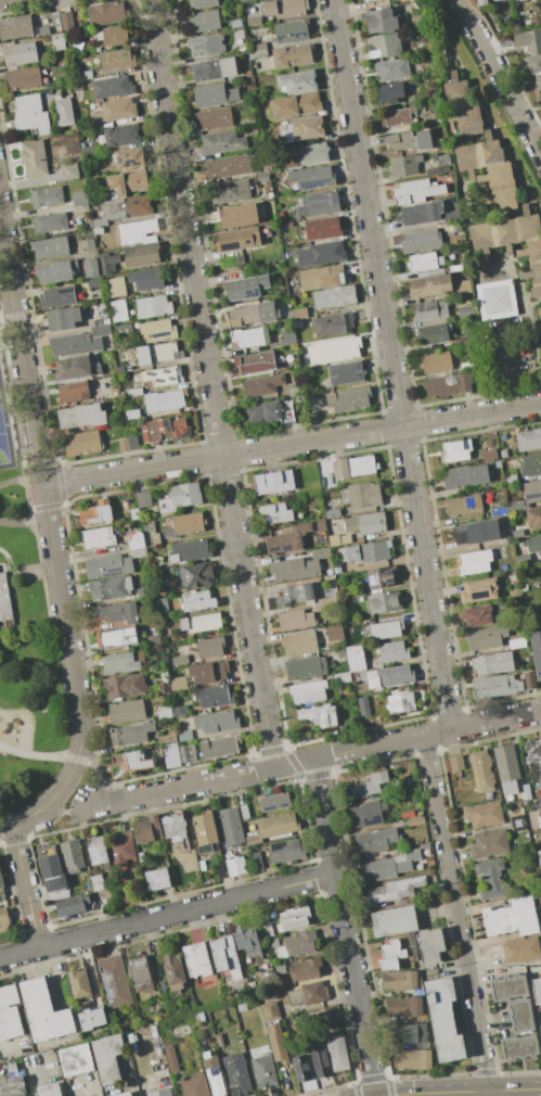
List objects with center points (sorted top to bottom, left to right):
building: (523, 0)
building: (540, 0)
building: (239, 1)
building: (371, 1)
building: (480, 2)
building: (202, 3)
building: (284, 8)
building: (107, 14)
building: (68, 17)
building: (203, 21)
building: (253, 21)
building: (381, 21)
building: (235, 23)
building: (15, 28)
building: (44, 30)
building: (291, 31)
building: (239, 34)
building: (112, 35)
building: (57, 41)
building: (529, 41)
building: (206, 46)
building: (384, 46)
building: (95, 49)
building: (258, 50)
building: (18, 53)
building: (293, 55)
building: (117, 60)
building: (61, 63)
building: (533, 65)
building: (214, 69)
building: (392, 69)
building: (257, 72)
building: (83, 75)
building: (23, 78)
road: (498, 80)
building: (538, 81)
building: (297, 82)
building: (112, 87)
building: (77, 88)
building: (391, 92)
building: (214, 95)
building: (295, 105)
building: (462, 107)
building: (115, 111)
building: (64, 112)
building: (30, 114)
building: (399, 117)
building: (215, 119)
road: (490, 124)
building: (301, 129)
building: (119, 136)
building: (410, 141)
building: (221, 142)
building: (306, 155)
building: (34, 158)
building: (128, 158)
building: (440, 158)
building: (404, 165)
building: (228, 166)
building: (437, 170)
building: (489, 170)
building: (69, 171)
building: (312, 178)
building: (127, 183)
building: (232, 191)
building: (415, 191)
building: (46, 196)
building: (79, 202)
building: (318, 204)
building: (127, 207)
building: (420, 214)
building: (236, 216)
building: (452, 217)
building: (99, 222)
building: (49, 224)
building: (284, 225)
building: (455, 228)
building: (322, 229)
building: (98, 230)
building: (137, 232)
building: (237, 240)
building: (422, 241)
building: (514, 243)
building: (90, 244)
building: (50, 248)
building: (288, 251)
building: (321, 254)
building: (141, 255)
building: (232, 262)
building: (424, 262)
road: (7, 263)
building: (106, 263)
building: (91, 268)
building: (56, 271)
building: (321, 278)
building: (146, 279)
building: (93, 283)
building: (246, 286)
building: (428, 286)
building: (115, 288)
building: (463, 288)
building: (98, 291)
building: (56, 297)
building: (334, 297)
building: (497, 300)
road: (7, 303)
building: (153, 307)
building: (118, 310)
building: (430, 310)
building: (465, 311)
building: (299, 314)
building: (539, 314)
building: (253, 315)
building: (62, 319)
building: (333, 324)
building: (123, 329)
building: (100, 331)
building: (157, 331)
building: (433, 334)
building: (248, 337)
building: (287, 339)
building: (74, 344)
building: (337, 351)
building: (156, 353)
building: (255, 362)
building: (435, 362)
road: (391, 365)
building: (465, 367)
building: (76, 368)
building: (346, 373)
building: (163, 377)
road: (210, 383)
building: (262, 385)
building: (448, 385)
building: (133, 392)
building: (295, 392)
building: (73, 393)
building: (348, 399)
building: (164, 400)
road: (1, 402)
building: (268, 412)
building: (132, 415)
building: (81, 416)
road: (8, 430)
building: (165, 430)
building: (131, 436)
building: (528, 441)
park: (3, 443)
building: (82, 444)
building: (123, 445)
road: (292, 445)
building: (456, 450)
building: (505, 454)
building: (489, 455)
road: (40, 460)
building: (530, 466)
building: (355, 467)
building: (465, 477)
building: (510, 479)
road: (21, 480)
building: (273, 483)
building: (532, 492)
building: (362, 496)
building: (180, 497)
building: (143, 499)
building: (464, 505)
building: (517, 507)
building: (499, 511)
building: (96, 513)
building: (275, 513)
building: (332, 513)
building: (533, 518)
road: (25, 523)
building: (366, 523)
building: (183, 524)
building: (476, 532)
building: (518, 532)
building: (98, 537)
building: (292, 538)
building: (152, 539)
building: (137, 540)
building: (334, 541)
building: (534, 544)
building: (190, 551)
building: (370, 551)
building: (139, 552)
building: (321, 552)
building: (523, 559)
building: (474, 562)
building: (107, 566)
building: (294, 569)
building: (336, 569)
road: (20, 574)
building: (196, 575)
building: (381, 577)
building: (110, 588)
building: (478, 590)
building: (294, 594)
building: (4, 596)
building: (198, 600)
building: (385, 602)
building: (162, 606)
building: (325, 606)
building: (116, 612)
building: (477, 615)
building: (292, 620)
building: (201, 623)
park: (24, 628)
building: (384, 629)
building: (334, 633)
building: (116, 637)
building: (486, 637)
building: (153, 639)
building: (517, 642)
building: (299, 643)
building: (210, 647)
building: (324, 647)
building: (392, 651)
building: (340, 652)
building: (536, 652)
building: (356, 658)
building: (179, 660)
building: (119, 663)
building: (492, 663)
building: (306, 667)
building: (201, 674)
building: (390, 676)
building: (343, 677)
building: (529, 679)
building: (124, 686)
building: (495, 686)
building: (163, 687)
road: (76, 689)
building: (308, 691)
building: (214, 696)
building: (400, 703)
building: (363, 705)
building: (126, 711)
building: (180, 711)
building: (164, 712)
building: (319, 715)
building: (216, 722)
building: (129, 735)
building: (184, 735)
building: (167, 738)
building: (218, 747)
building: (188, 753)
building: (171, 755)
road: (66, 756)
road: (309, 759)
building: (533, 759)
building: (132, 761)
building: (455, 763)
building: (480, 766)
building: (507, 767)
road: (72, 769)
building: (368, 785)
building: (526, 791)
building: (538, 792)
road: (52, 798)
building: (273, 802)
building: (539, 805)
road: (56, 812)
building: (243, 812)
building: (368, 813)
building: (418, 813)
building: (484, 814)
road: (23, 818)
building: (414, 821)
building: (516, 821)
road: (5, 825)
building: (231, 827)
building: (272, 827)
building: (175, 828)
building: (147, 831)
building: (205, 831)
building: (376, 841)
building: (489, 844)
building: (425, 845)
building: (121, 850)
building: (286, 851)
building: (98, 853)
building: (72, 856)
building: (539, 857)
building: (256, 861)
building: (235, 866)
building: (388, 866)
building: (51, 869)
building: (221, 870)
building: (491, 878)
building: (157, 879)
building: (96, 882)
road: (25, 885)
building: (395, 889)
building: (1, 890)
building: (72, 906)
road: (186, 910)
road: (456, 913)
building: (512, 917)
building: (293, 919)
building: (4, 920)
building: (394, 921)
road: (344, 927)
building: (267, 931)
building: (247, 940)
building: (274, 942)
building: (297, 944)
building: (431, 945)
building: (412, 946)
building: (520, 950)
road: (20, 953)
building: (391, 955)
building: (226, 956)
building: (197, 959)
building: (305, 968)
building: (173, 970)
building: (140, 974)
building: (398, 980)
building: (114, 982)
building: (81, 983)
building: (162, 985)
building: (508, 986)
building: (537, 992)
building: (307, 994)
building: (9, 995)
building: (100, 1005)
building: (403, 1006)
building: (85, 1010)
building: (270, 1011)
building: (43, 1012)
building: (521, 1016)
building: (198, 1017)
building: (91, 1018)
building: (318, 1020)
building: (443, 1020)
building: (10, 1023)
building: (540, 1029)
building: (408, 1034)
building: (219, 1041)
building: (276, 1043)
building: (520, 1047)
building: (337, 1052)
building: (170, 1057)
building: (107, 1058)
building: (75, 1059)
building: (413, 1059)
building: (321, 1062)
building: (11, 1068)
building: (301, 1068)
building: (265, 1071)
building: (214, 1074)
building: (236, 1074)
building: (194, 1085)
building: (12, 1086)
building: (49, 1089)
road: (462, 1091)
building: (160, 1093)
building: (124, 1094)

